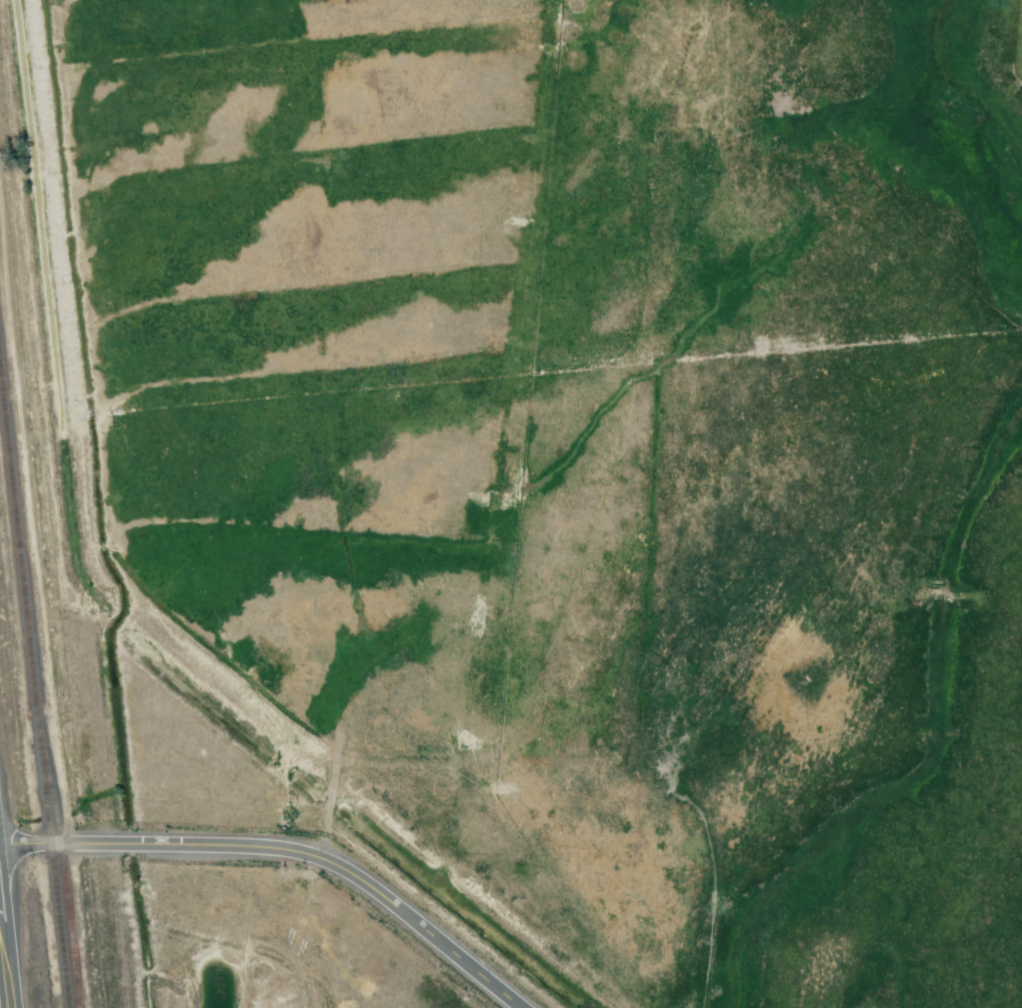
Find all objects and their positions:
railway: (31, 672)
road: (282, 850)
railway: (60, 861)
wastewater plant: (204, 982)
road: (2, 983)

